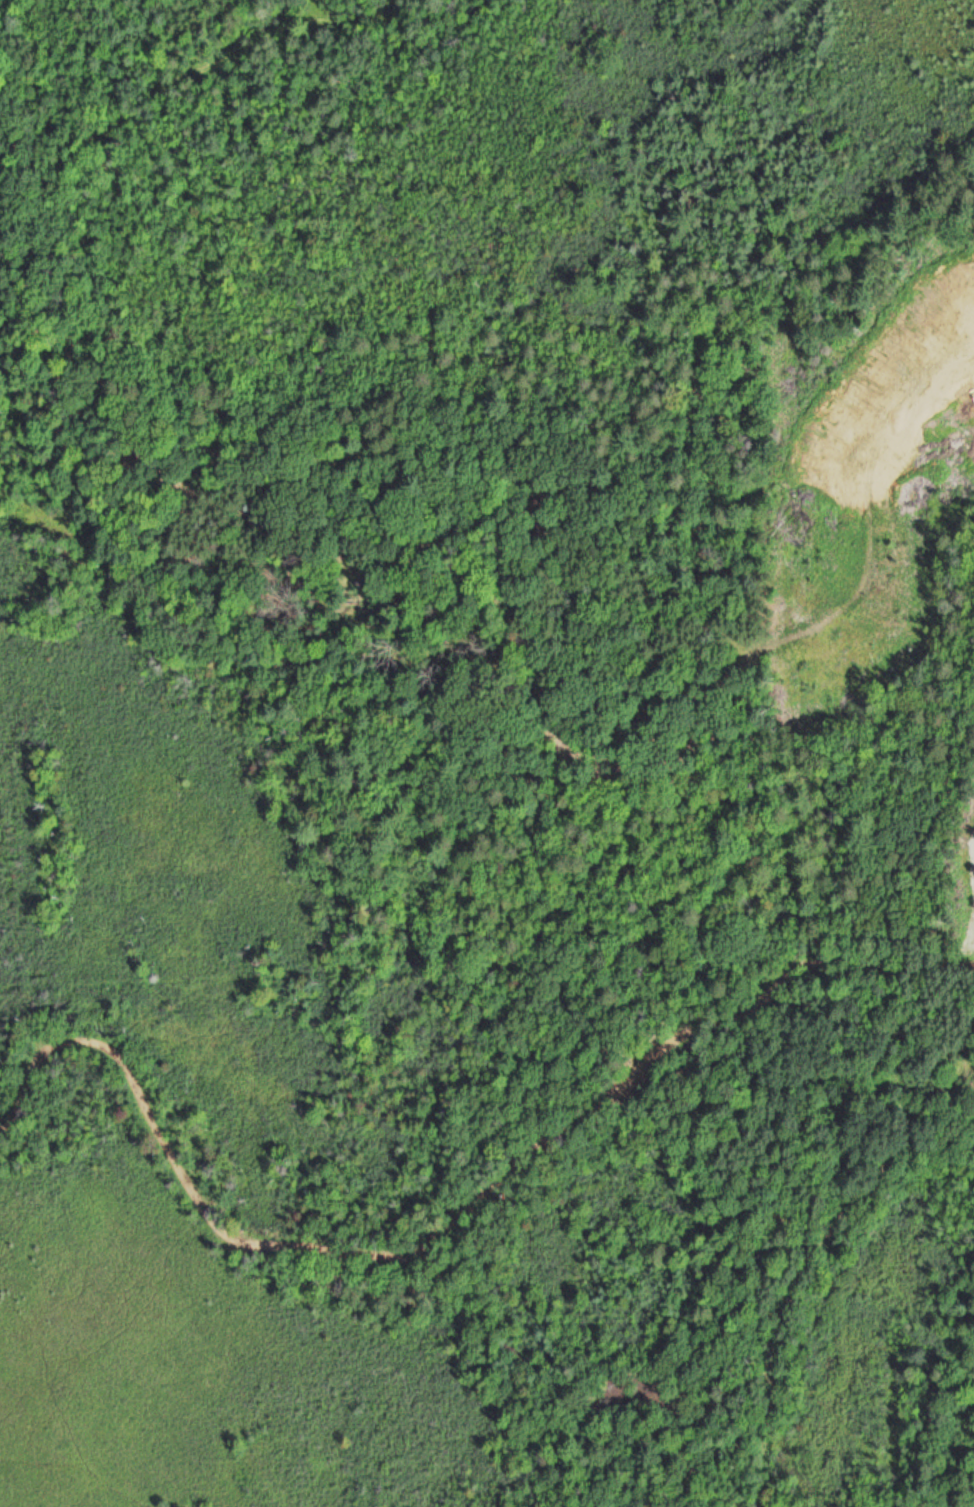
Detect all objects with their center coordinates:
road: (290, 24)
road: (450, 1230)

